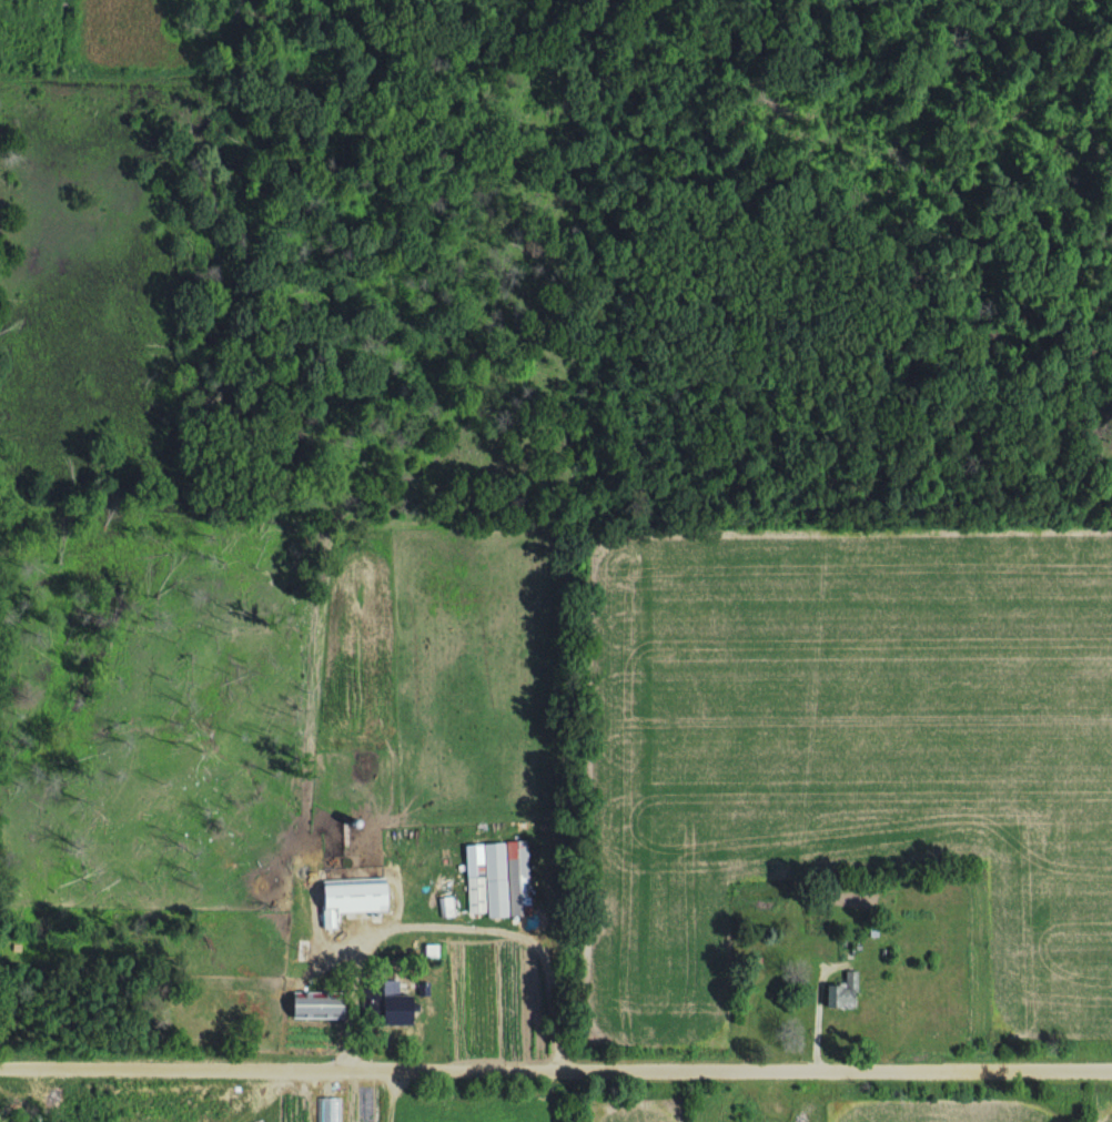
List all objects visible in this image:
building: (353, 900)
building: (446, 909)
building: (845, 994)
road: (556, 1064)

